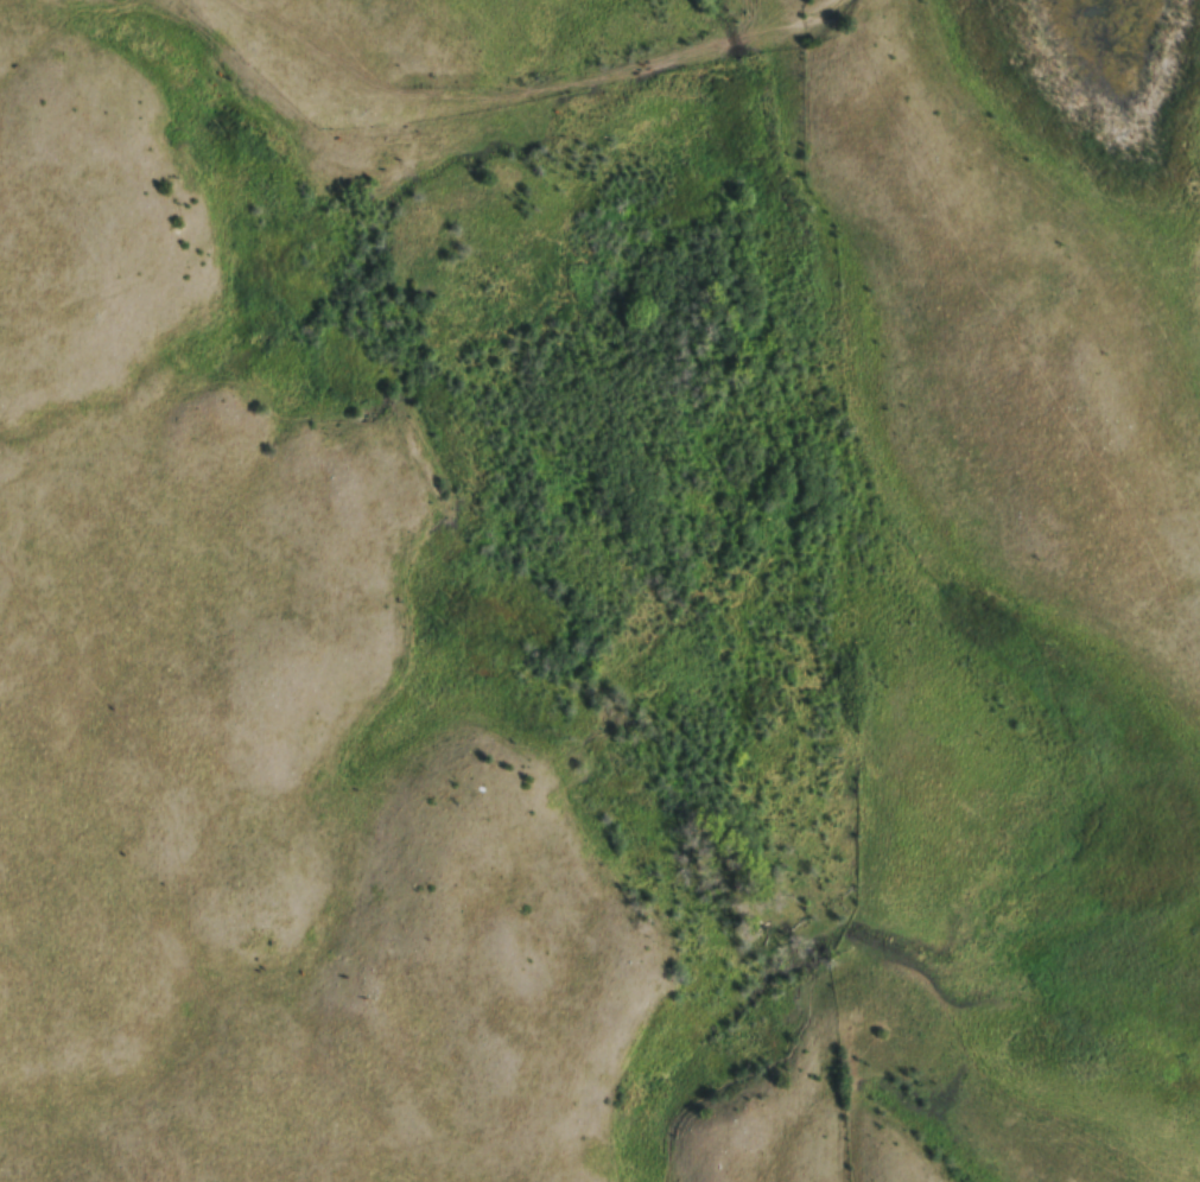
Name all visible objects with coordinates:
road: (515, 83)

